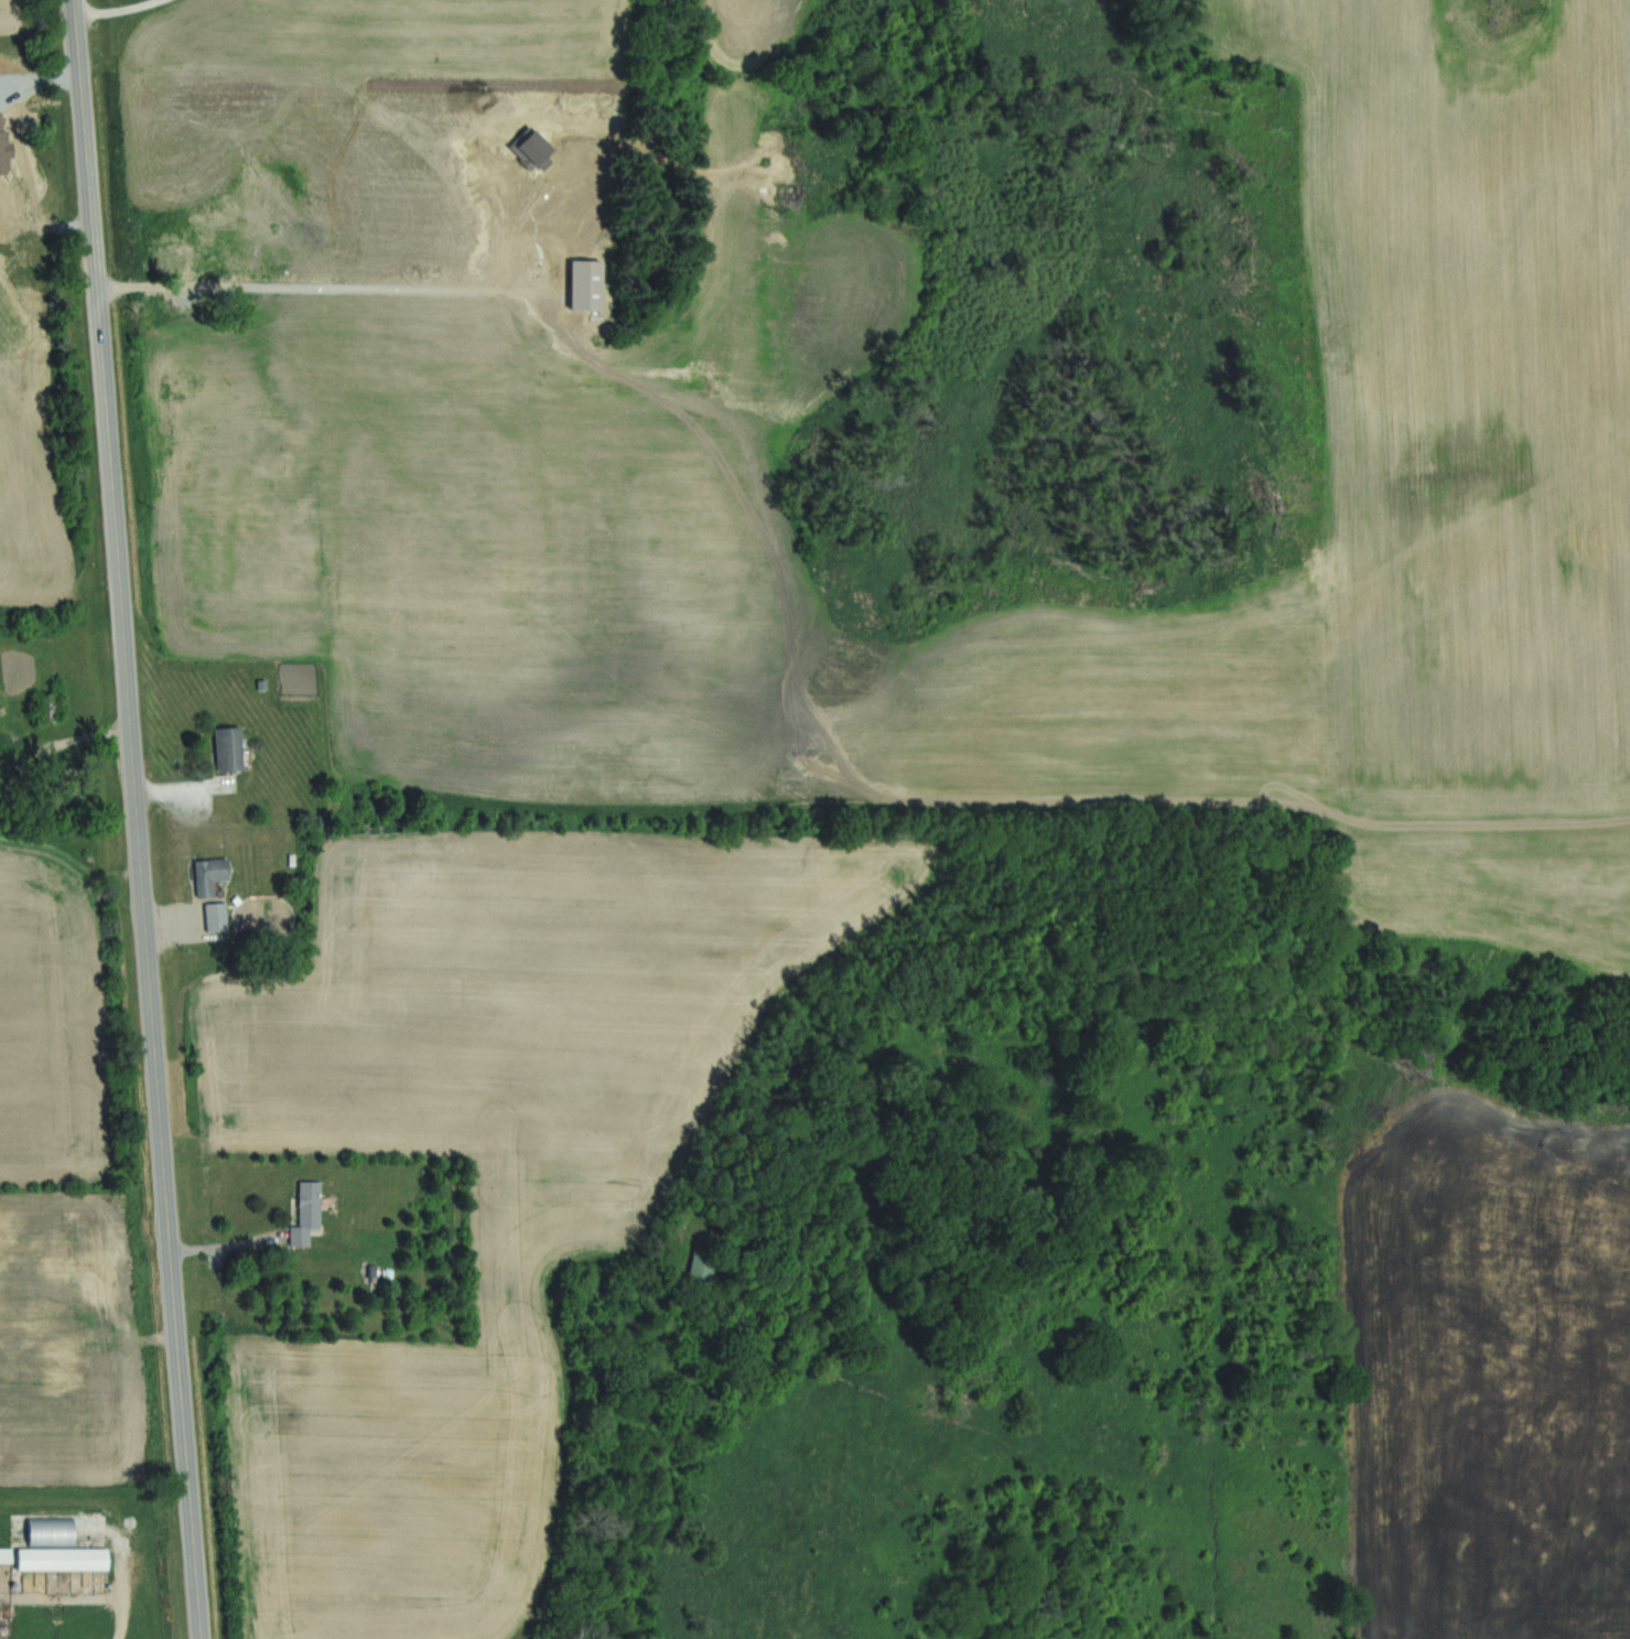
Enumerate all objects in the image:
road: (116, 9)
road: (33, 82)
building: (2, 152)
building: (262, 201)
building: (168, 255)
road: (139, 285)
building: (47, 712)
road: (88, 735)
building: (228, 748)
road: (164, 797)
road: (138, 819)
building: (209, 873)
building: (217, 916)
road: (171, 918)
building: (306, 1212)
road: (227, 1244)
building: (97, 1262)
building: (702, 1266)
road: (153, 1338)
building: (79, 1367)
road: (126, 1583)

